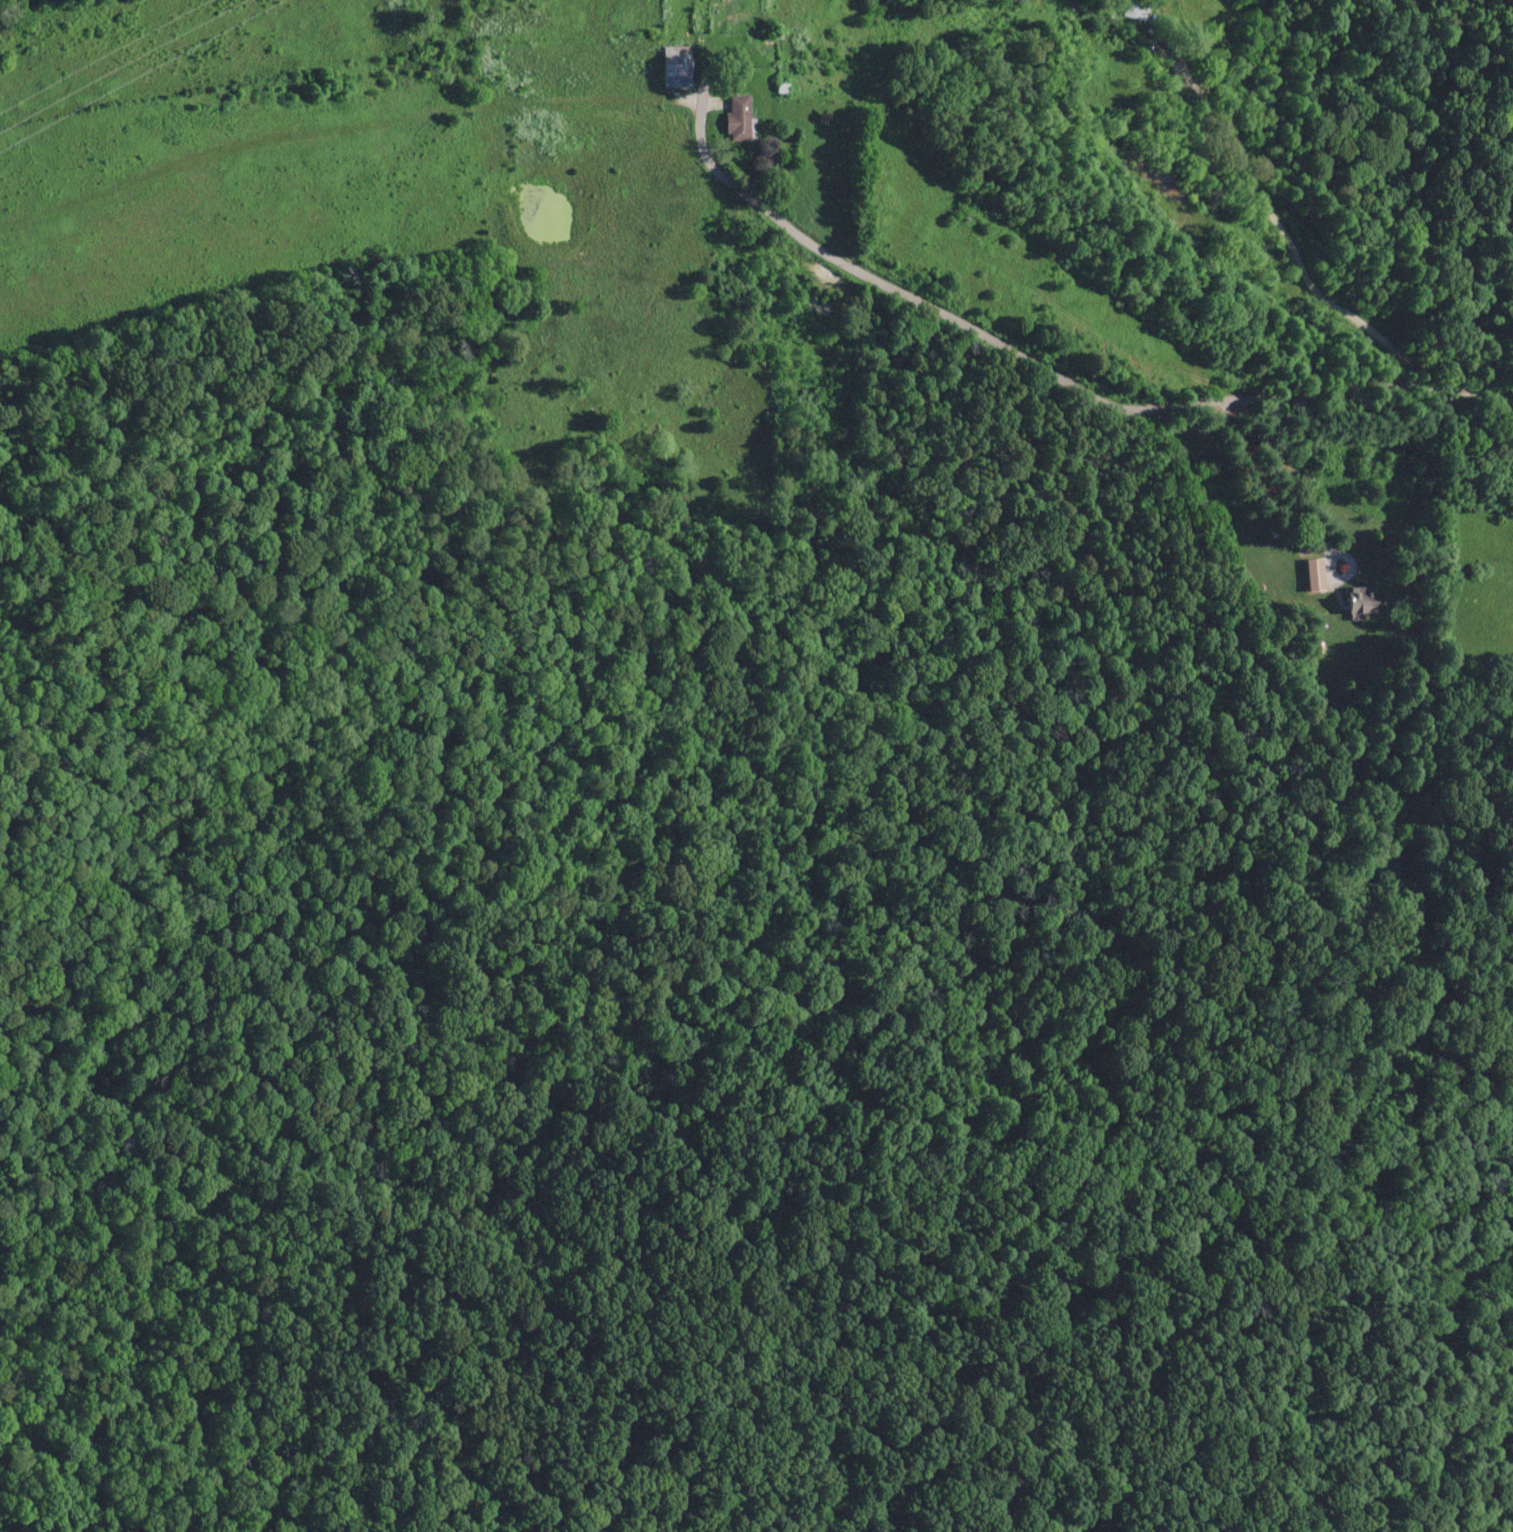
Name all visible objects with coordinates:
building: (1134, 10)
building: (675, 66)
building: (737, 117)
road: (1297, 230)
building: (1314, 575)
building: (1361, 601)

